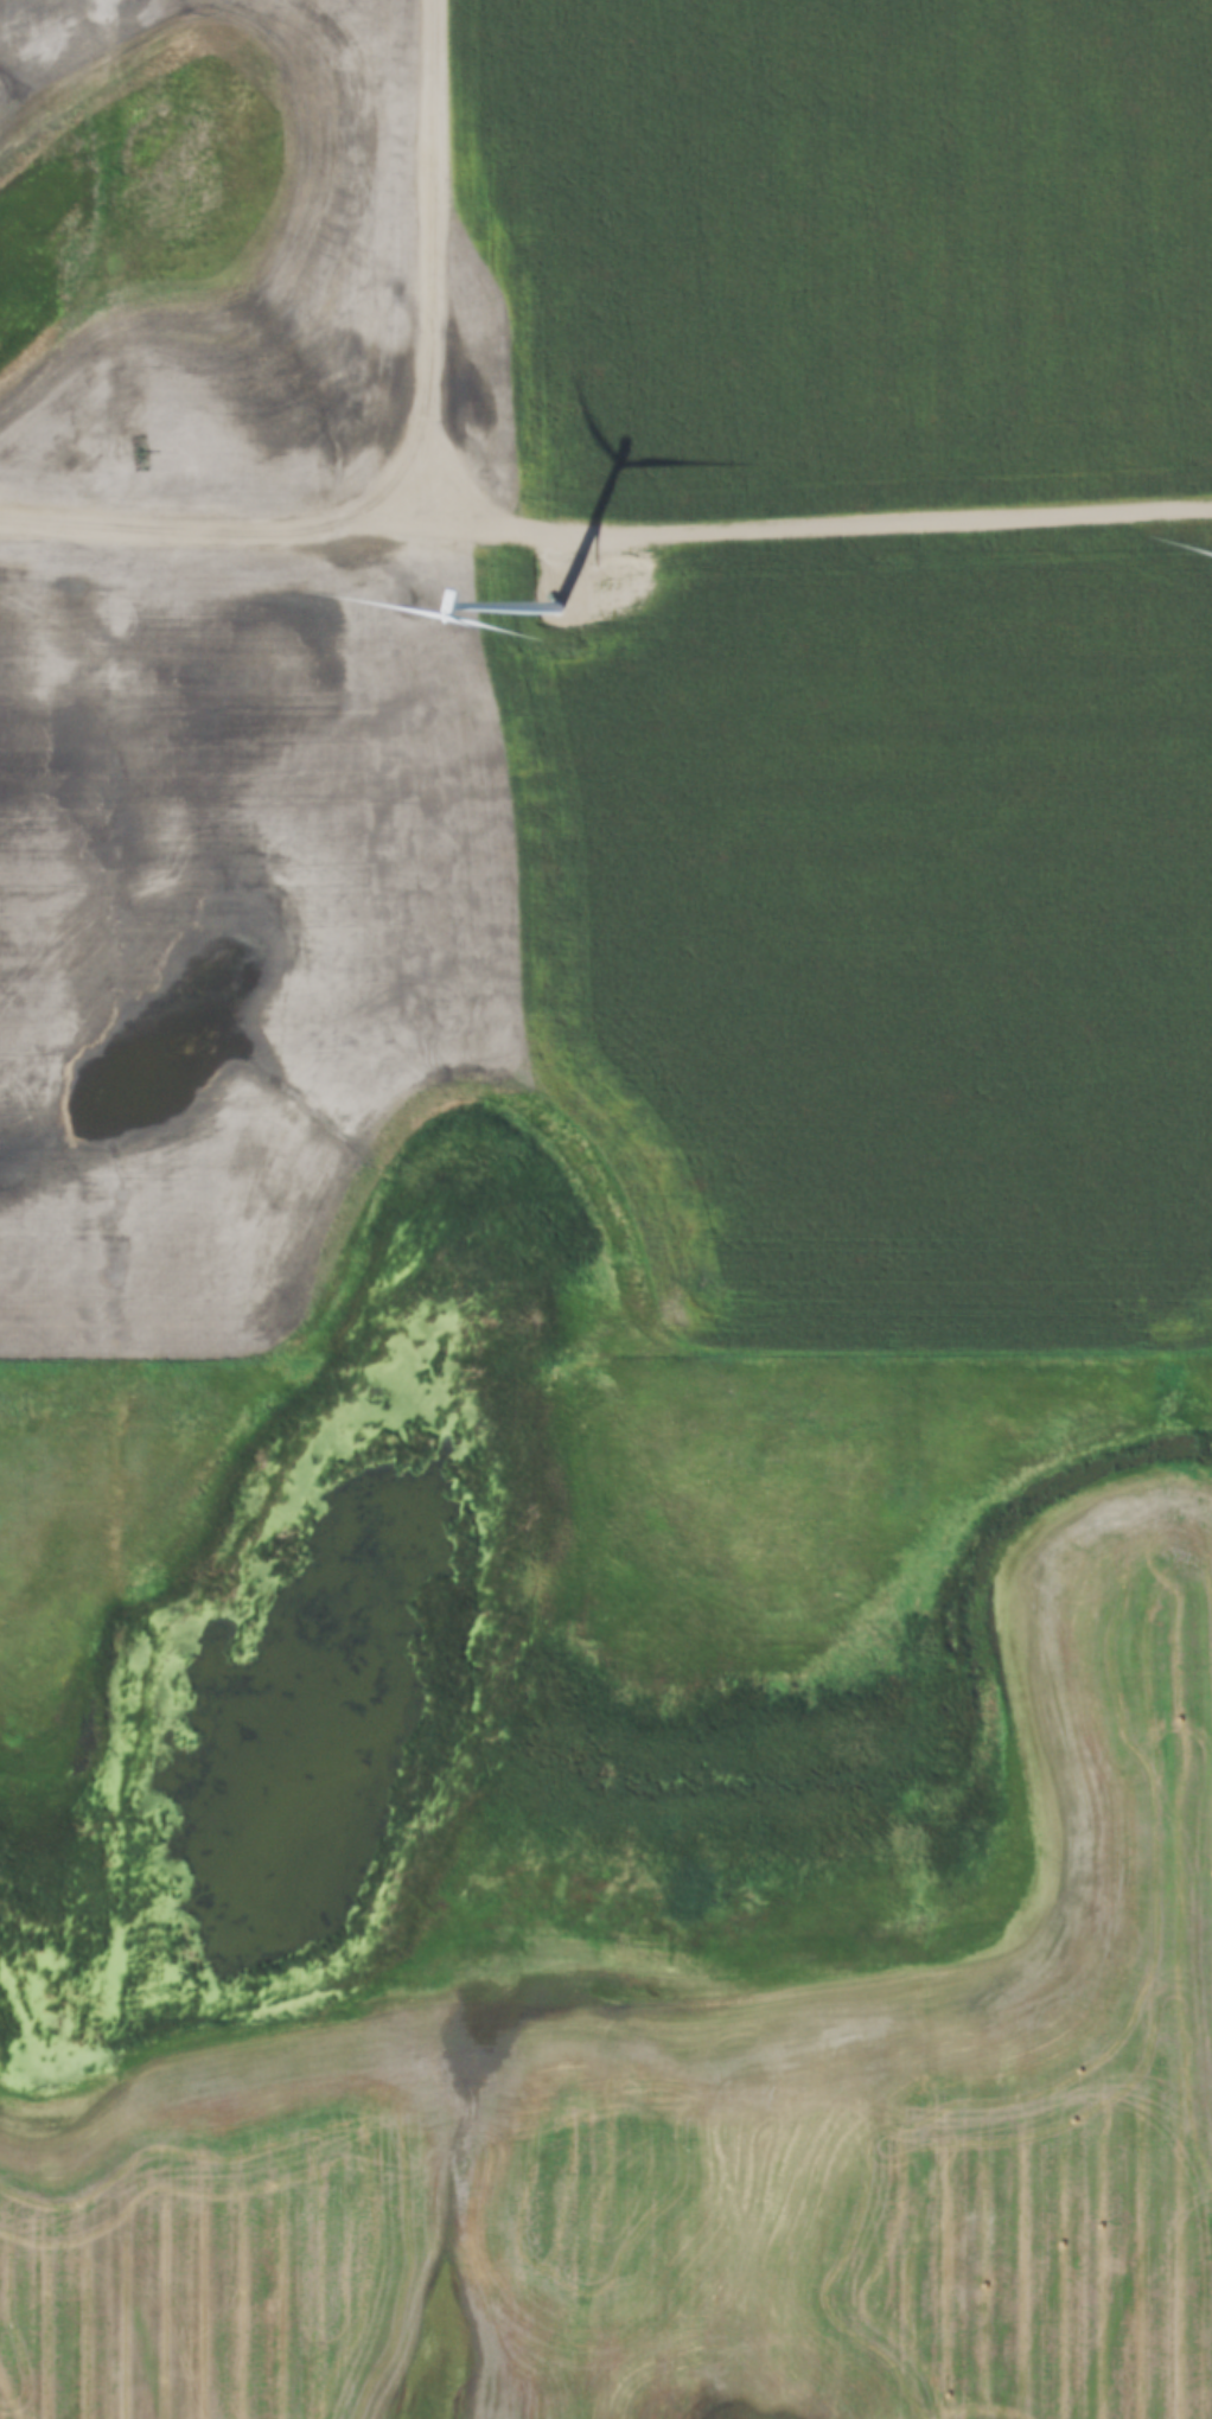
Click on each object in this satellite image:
wind turbine: (556, 605)

